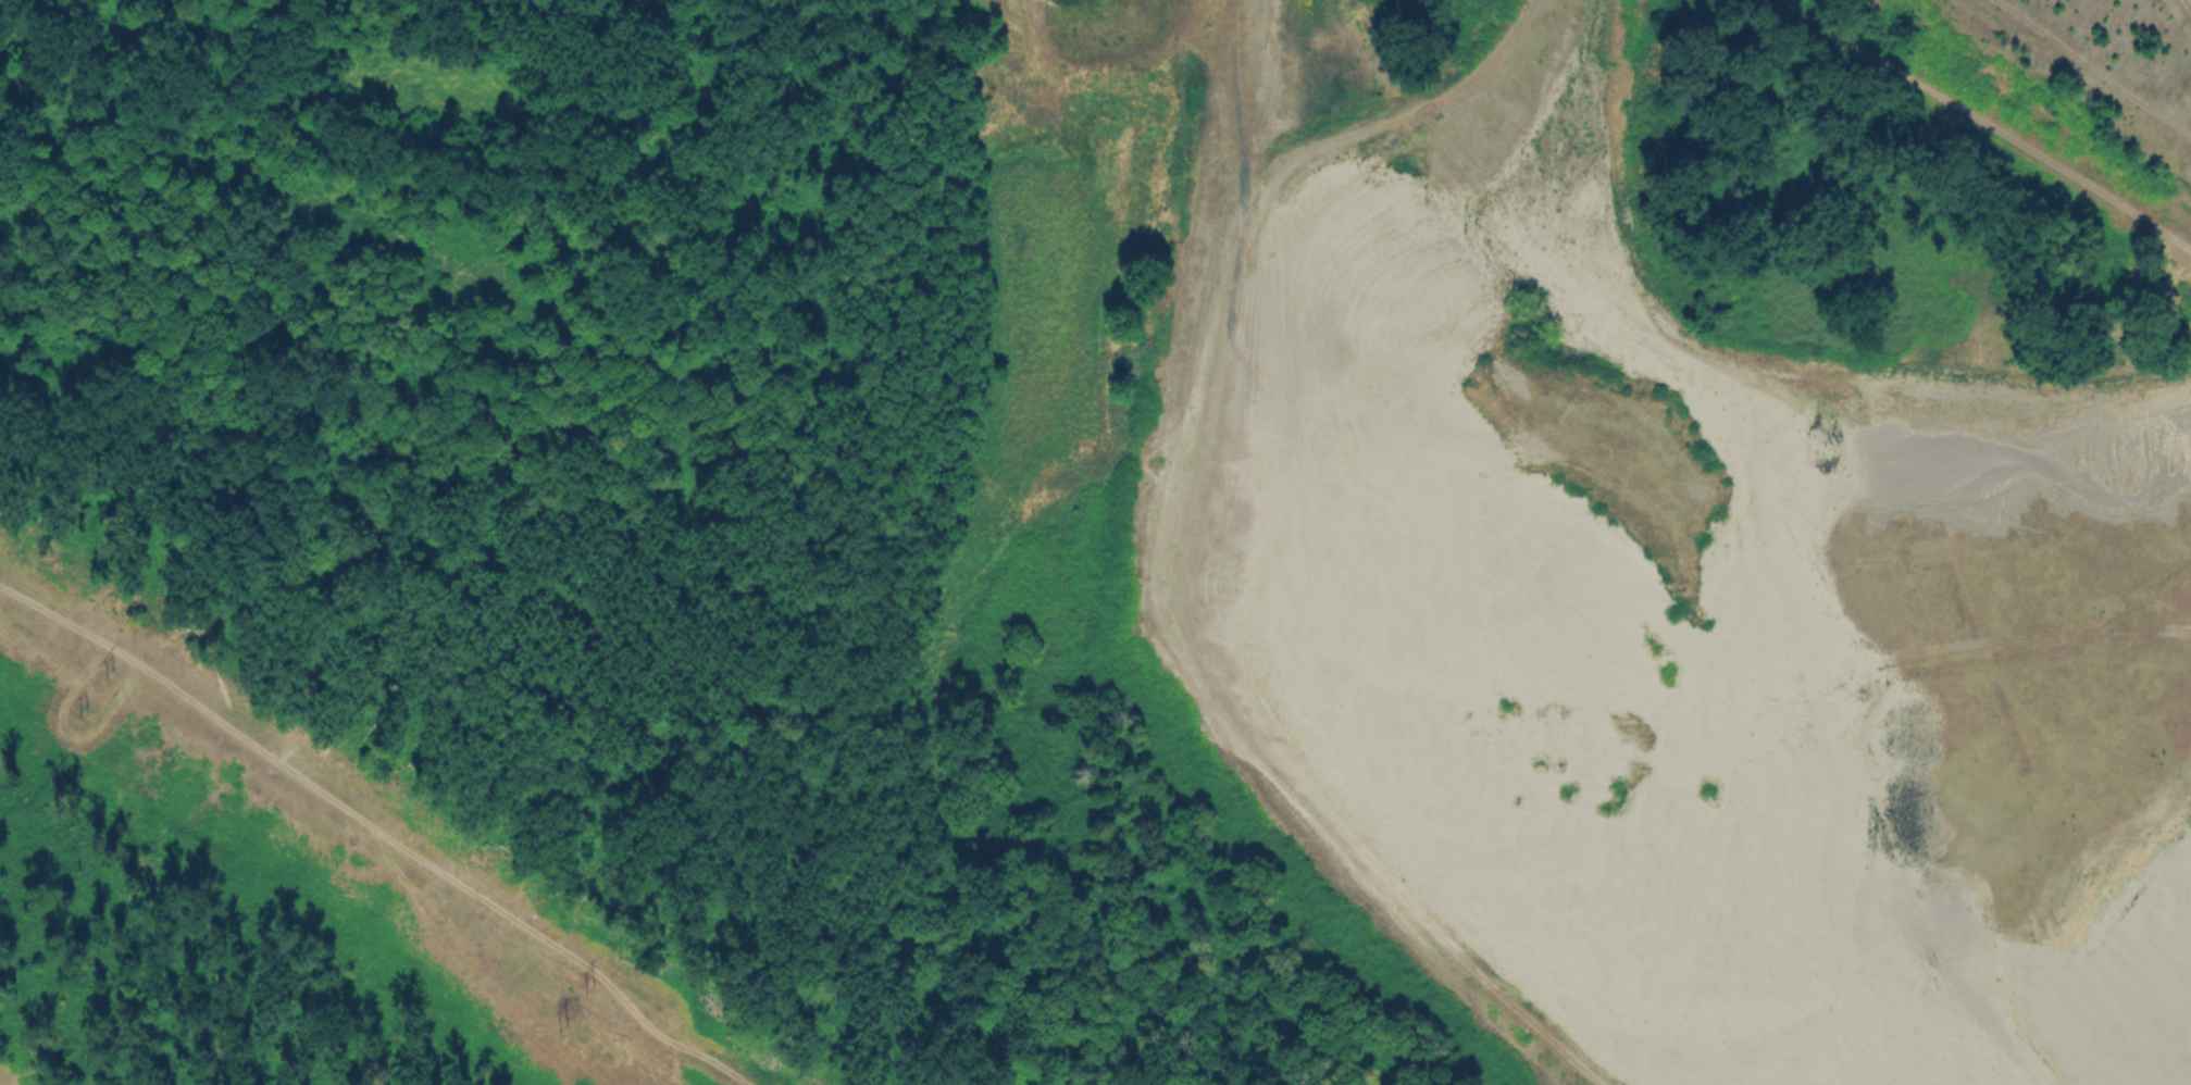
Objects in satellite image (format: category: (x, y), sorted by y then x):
road: (1987, 123)
road: (378, 832)

